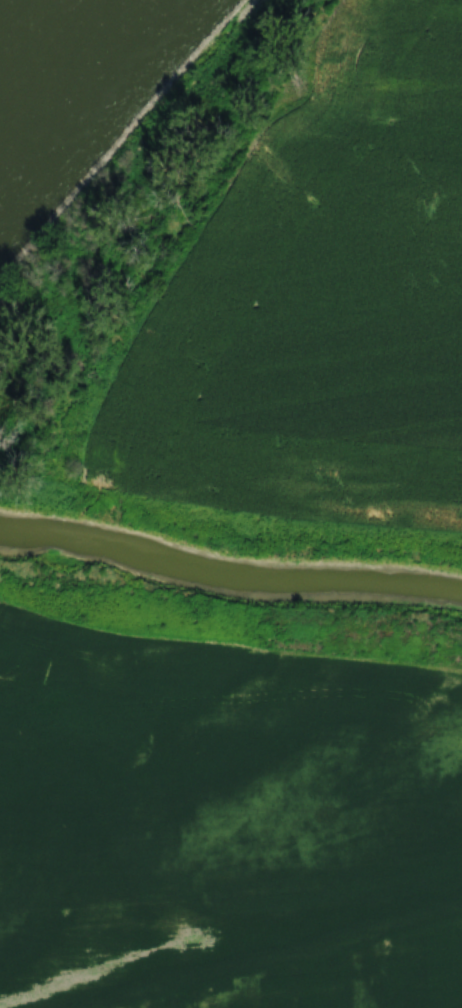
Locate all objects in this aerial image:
road: (397, 16)

